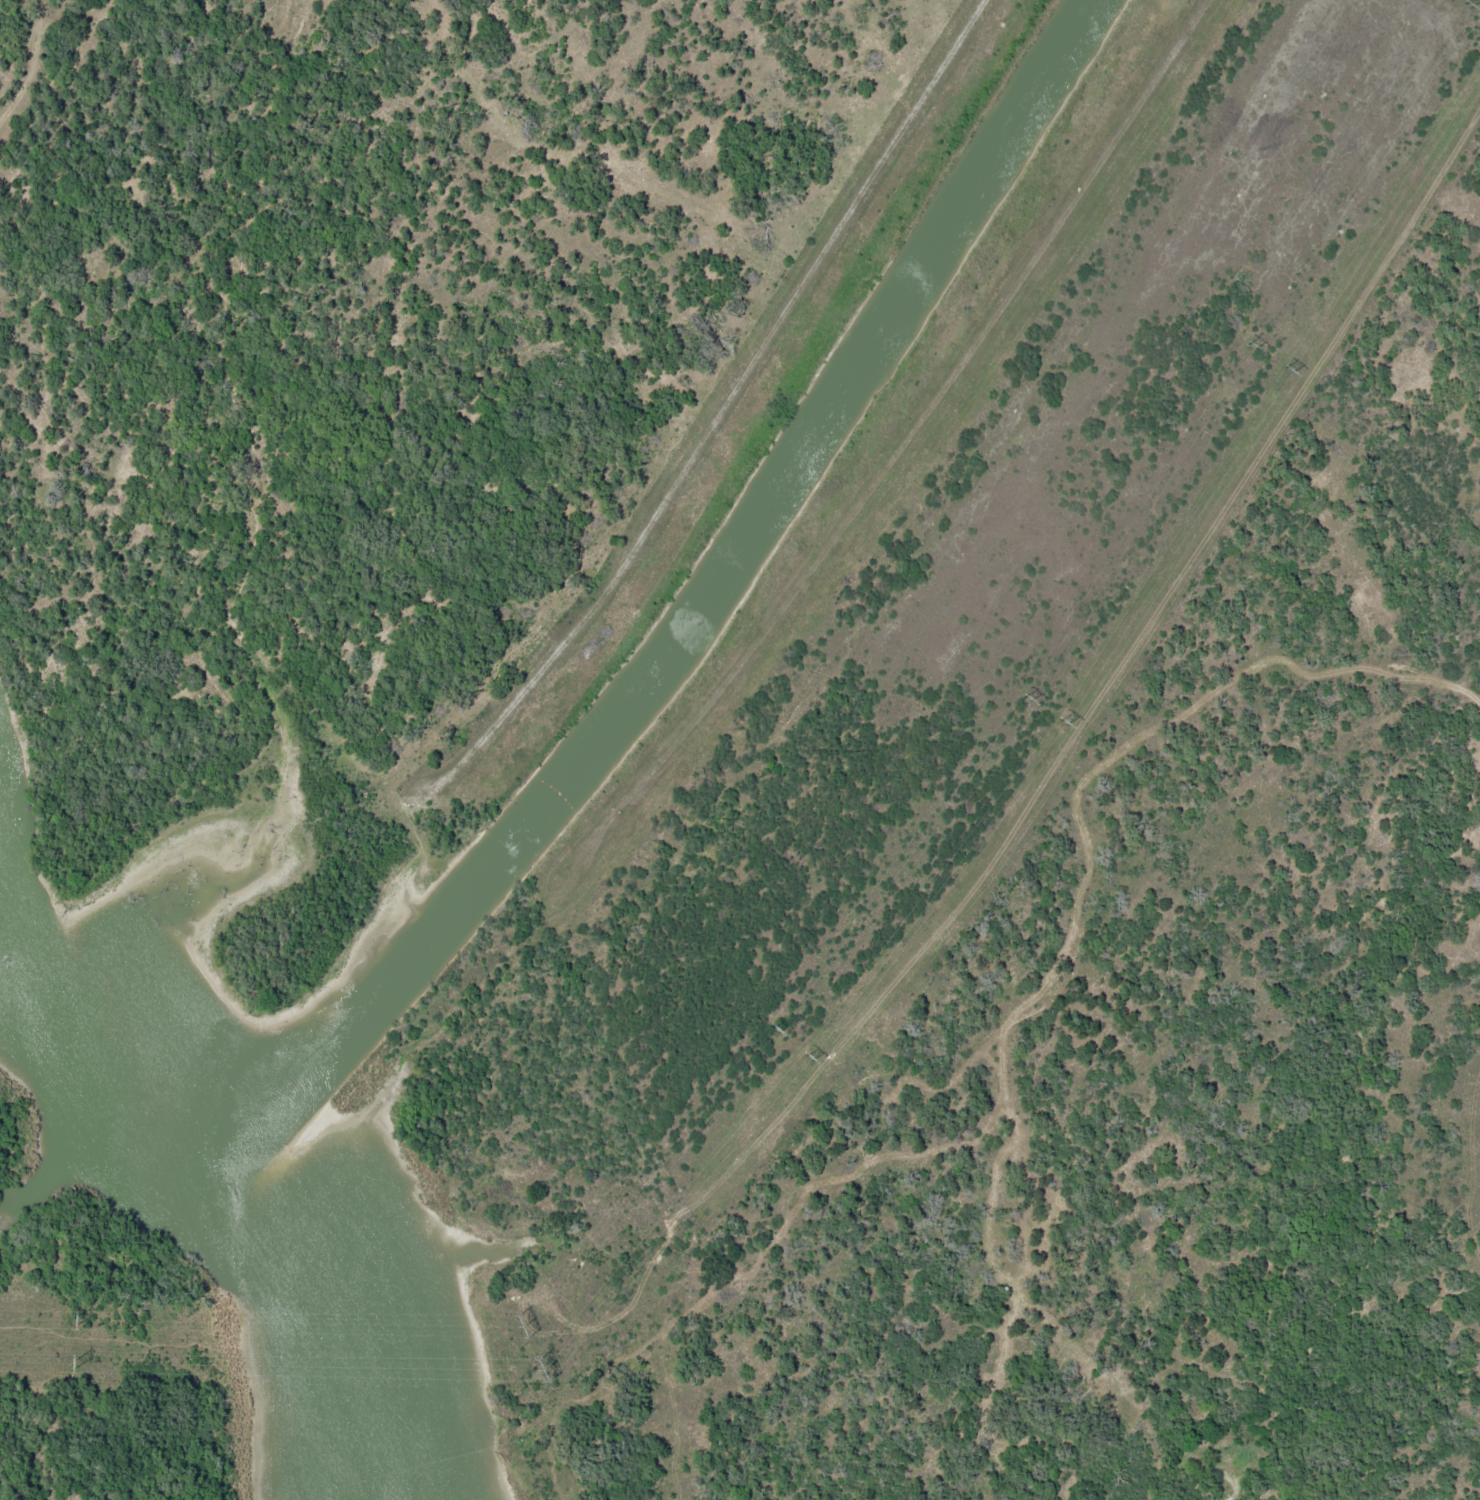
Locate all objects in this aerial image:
power tower: (1465, 8)
power tower: (1250, 345)
power tower: (1287, 370)
road: (724, 408)
road: (914, 431)
power tower: (1025, 698)
power tower: (1063, 722)
road: (1022, 1007)
power tower: (773, 1031)
power tower: (808, 1057)
power tower: (74, 1320)
power tower: (521, 1325)
power tower: (73, 1363)
power tower: (540, 1370)
power plant: (119, 1394)

